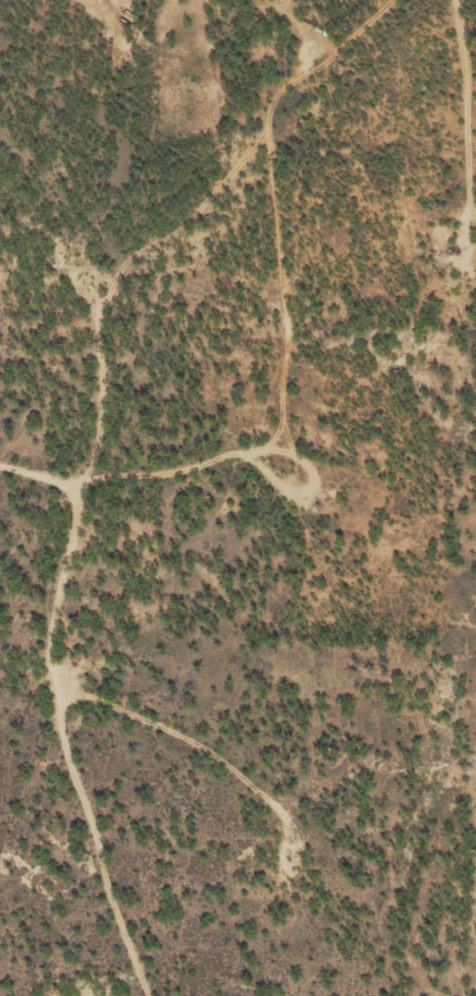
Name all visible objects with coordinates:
road: (231, 65)
road: (112, 517)
road: (225, 755)
road: (141, 861)

